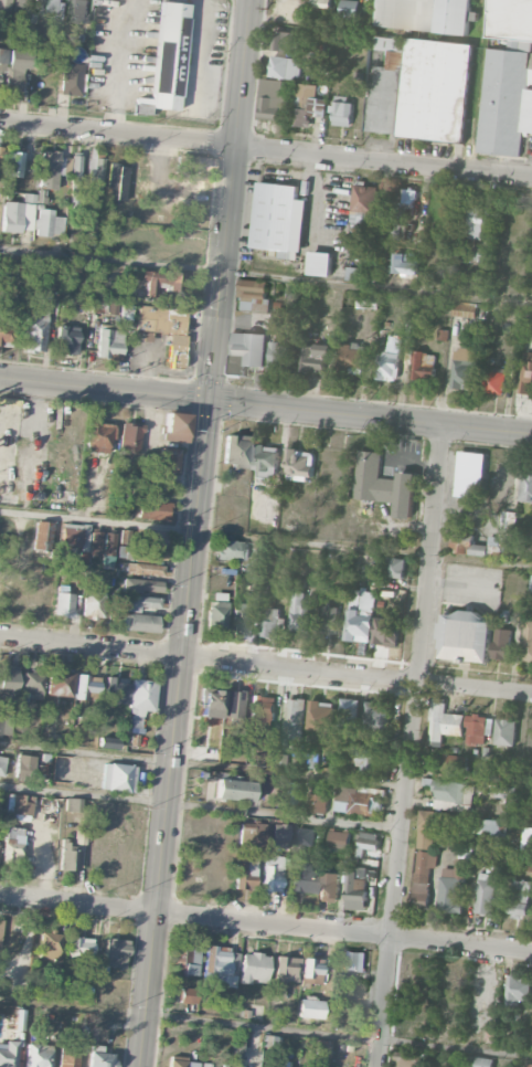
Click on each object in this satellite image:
building: (320, 3)
building: (349, 6)
building: (6, 7)
building: (52, 8)
building: (26, 9)
building: (77, 11)
building: (425, 14)
building: (510, 19)
building: (30, 31)
building: (284, 40)
road: (196, 52)
parking lot: (120, 55)
building: (169, 56)
parking lot: (202, 59)
building: (283, 66)
building: (13, 67)
building: (72, 80)
building: (422, 91)
building: (272, 98)
building: (305, 104)
building: (342, 110)
road: (116, 131)
road: (382, 159)
building: (15, 161)
building: (187, 162)
building: (76, 166)
building: (52, 169)
building: (95, 175)
road: (423, 200)
building: (403, 201)
building: (275, 215)
building: (361, 215)
building: (17, 216)
building: (476, 222)
building: (49, 223)
building: (91, 223)
building: (479, 253)
building: (320, 262)
building: (404, 264)
building: (352, 273)
road: (266, 276)
building: (161, 281)
building: (253, 295)
building: (368, 299)
building: (464, 308)
building: (160, 316)
building: (36, 327)
building: (441, 334)
building: (6, 335)
building: (66, 339)
building: (109, 341)
building: (390, 345)
building: (175, 350)
building: (245, 352)
building: (281, 353)
building: (315, 356)
building: (351, 357)
building: (389, 365)
building: (424, 366)
building: (465, 368)
road: (449, 373)
building: (526, 373)
building: (494, 380)
traffic signals: (208, 399)
road: (266, 404)
building: (174, 427)
building: (98, 436)
building: (130, 437)
building: (235, 451)
building: (169, 459)
building: (266, 459)
building: (299, 463)
building: (502, 479)
building: (383, 483)
building: (525, 486)
building: (152, 510)
road: (192, 532)
building: (506, 533)
building: (73, 535)
building: (42, 536)
road: (266, 540)
building: (95, 543)
building: (108, 548)
building: (232, 550)
road: (432, 553)
building: (149, 554)
building: (395, 567)
building: (145, 569)
building: (142, 585)
building: (531, 588)
building: (138, 602)
building: (63, 604)
building: (93, 604)
building: (298, 612)
building: (359, 614)
building: (327, 616)
building: (216, 617)
building: (243, 619)
building: (269, 620)
building: (140, 623)
building: (386, 630)
building: (465, 636)
building: (528, 641)
building: (501, 643)
road: (91, 646)
road: (355, 676)
building: (60, 683)
building: (8, 684)
building: (32, 684)
building: (86, 688)
building: (131, 694)
building: (211, 704)
building: (233, 704)
building: (263, 707)
building: (349, 711)
building: (321, 715)
building: (376, 715)
building: (292, 718)
building: (444, 723)
building: (478, 728)
building: (506, 731)
building: (78, 735)
building: (108, 742)
building: (369, 760)
building: (311, 762)
building: (453, 762)
building: (2, 765)
road: (202, 767)
building: (29, 768)
building: (118, 778)
building: (234, 790)
building: (507, 792)
building: (451, 794)
building: (292, 795)
building: (355, 801)
building: (318, 803)
building: (19, 807)
road: (200, 807)
building: (489, 826)
building: (426, 828)
building: (252, 834)
building: (280, 835)
building: (305, 835)
building: (528, 837)
building: (338, 838)
building: (445, 838)
building: (369, 843)
building: (12, 844)
building: (68, 857)
building: (245, 873)
building: (274, 874)
road: (396, 875)
building: (423, 877)
building: (302, 878)
building: (329, 887)
building: (358, 887)
building: (451, 887)
building: (485, 894)
building: (519, 896)
road: (77, 902)
road: (200, 917)
road: (294, 927)
building: (0, 931)
road: (384, 937)
building: (50, 944)
building: (81, 948)
road: (480, 948)
building: (115, 952)
building: (180, 954)
building: (352, 961)
building: (191, 964)
building: (220, 965)
building: (253, 968)
building: (287, 969)
building: (311, 971)
building: (518, 990)
building: (187, 995)
building: (311, 1008)
building: (19, 1020)
road: (266, 1026)
building: (487, 1035)
building: (240, 1047)
building: (8, 1054)
building: (38, 1055)
building: (67, 1058)
building: (99, 1058)
building: (405, 1059)
building: (180, 1061)
building: (479, 1061)
building: (205, 1065)
building: (529, 1065)
building: (272, 1066)

